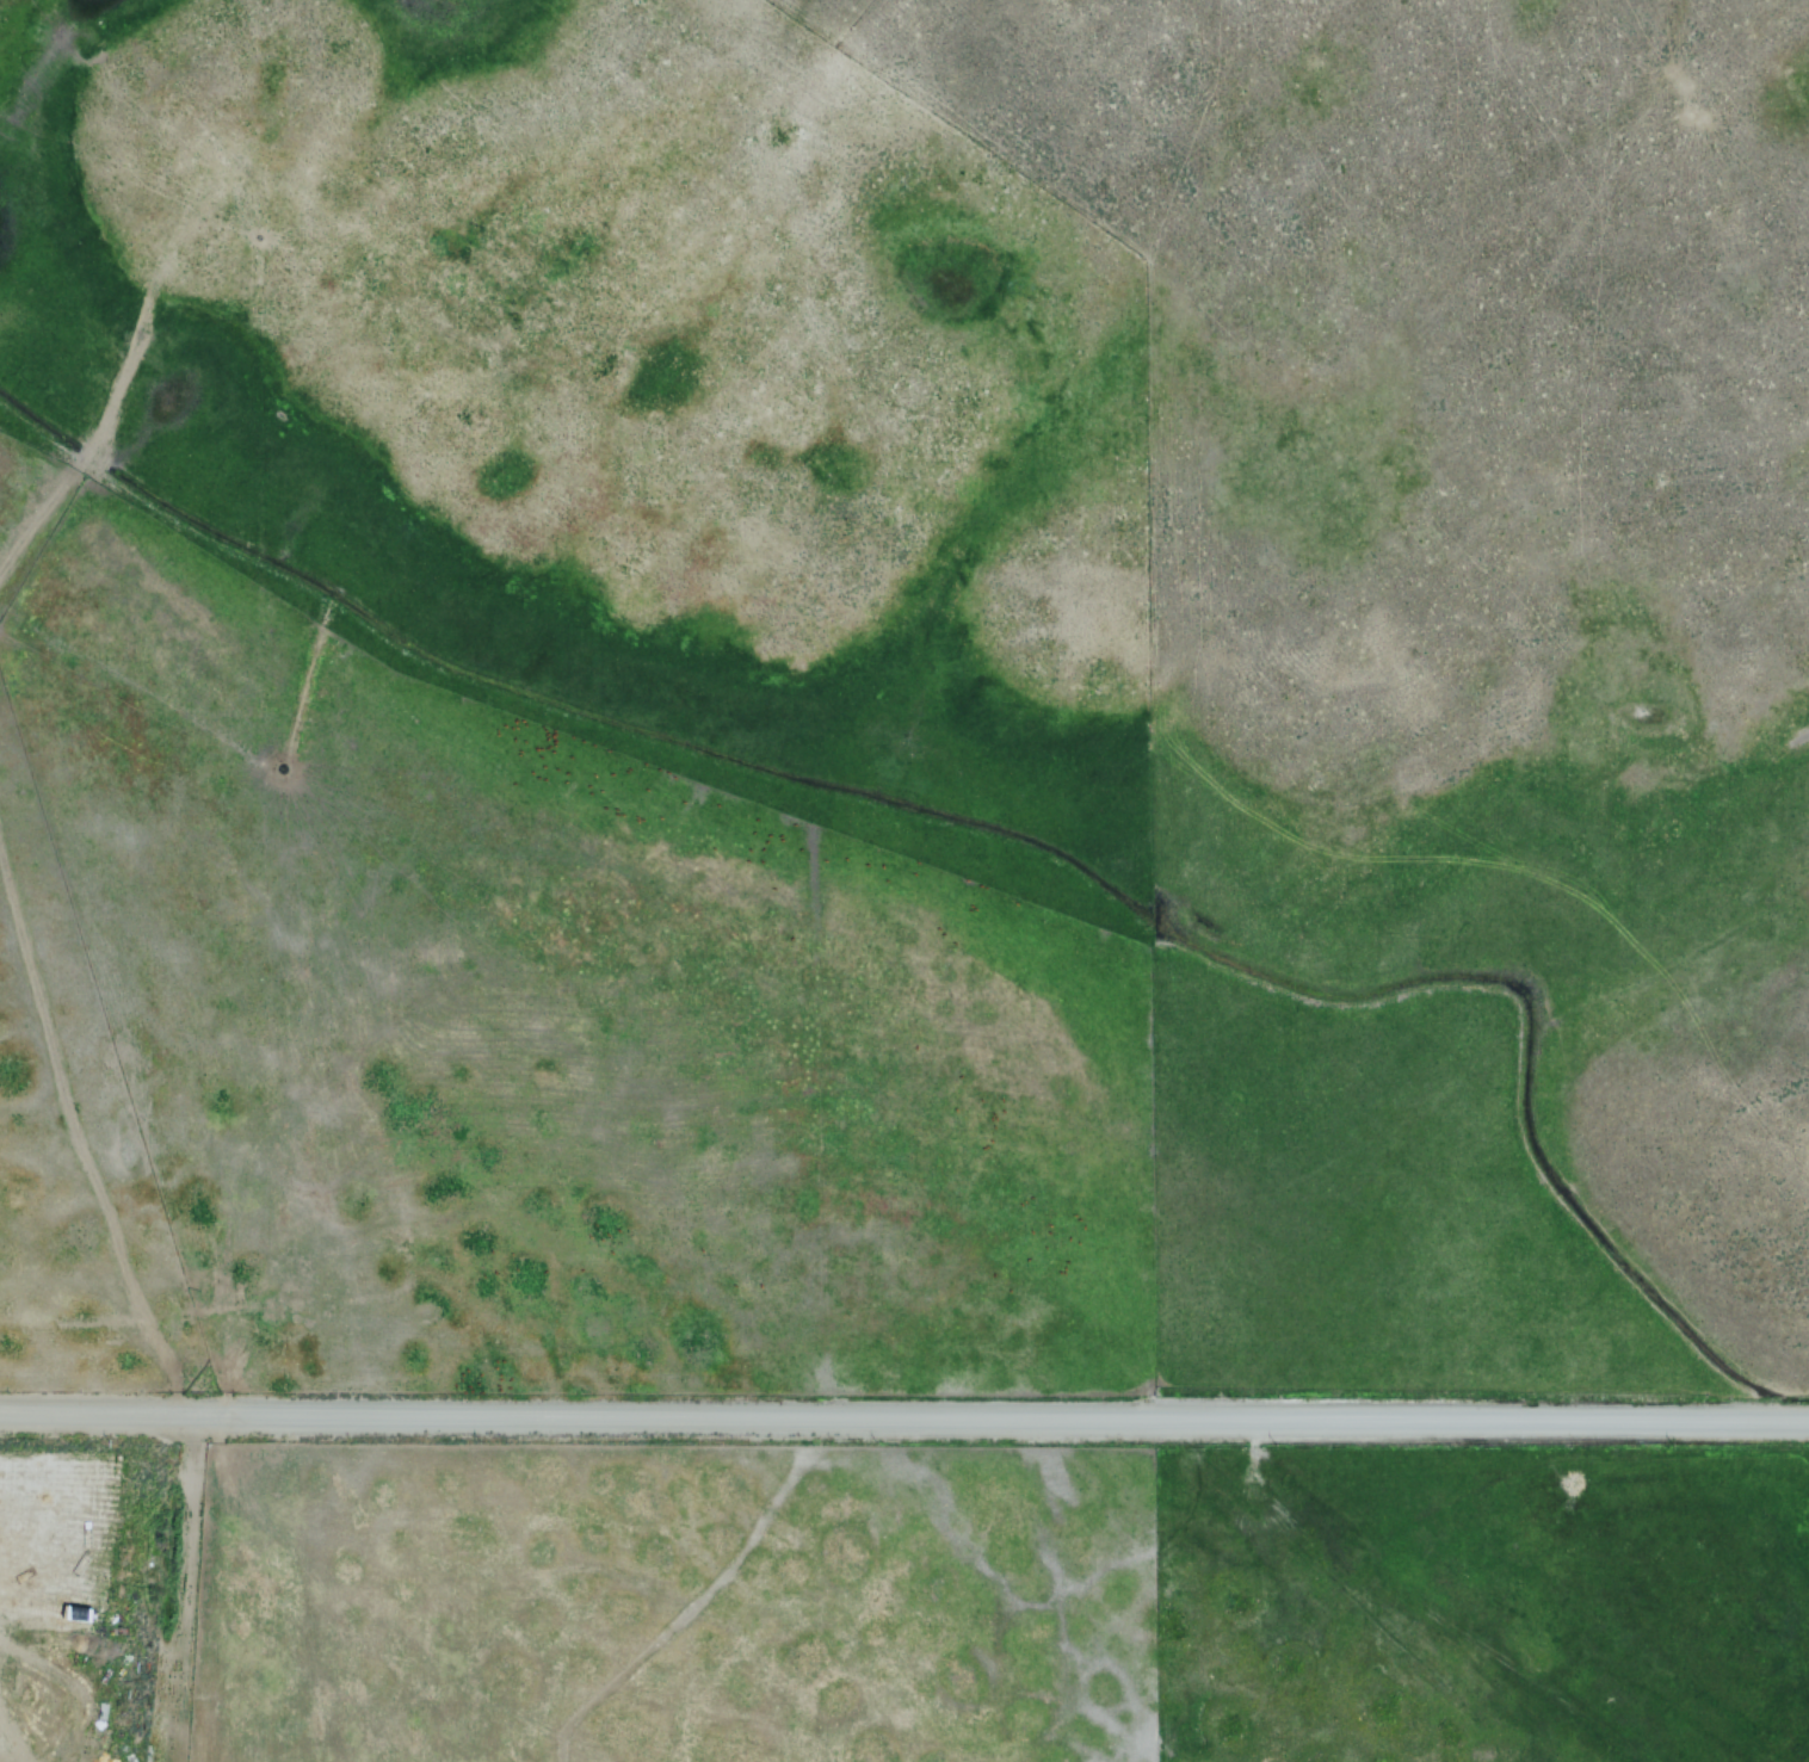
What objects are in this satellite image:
road: (904, 1417)

